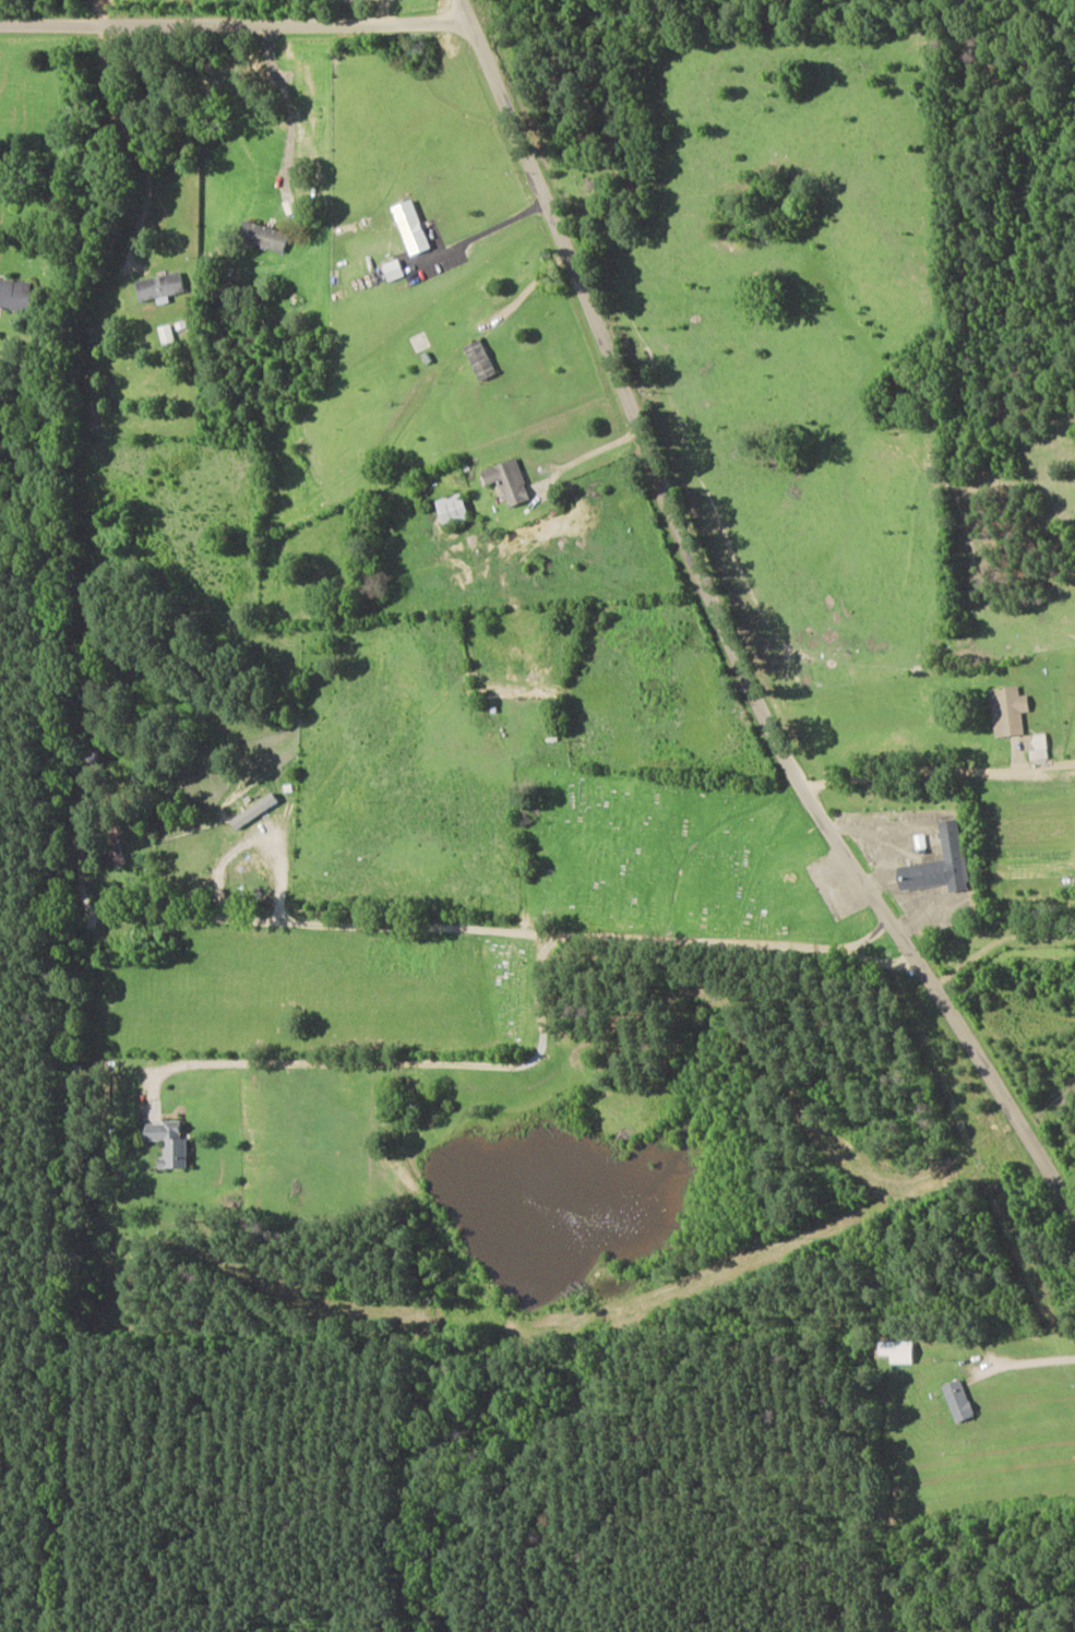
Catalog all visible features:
road: (241, 5)
building: (413, 226)
building: (266, 235)
building: (395, 269)
building: (162, 286)
building: (16, 294)
building: (168, 333)
building: (481, 358)
building: (506, 479)
building: (451, 508)
road: (744, 615)
building: (1005, 707)
building: (1039, 746)
road: (945, 755)
building: (937, 860)
building: (165, 1140)
building: (895, 1348)
building: (957, 1398)
road: (969, 1585)

